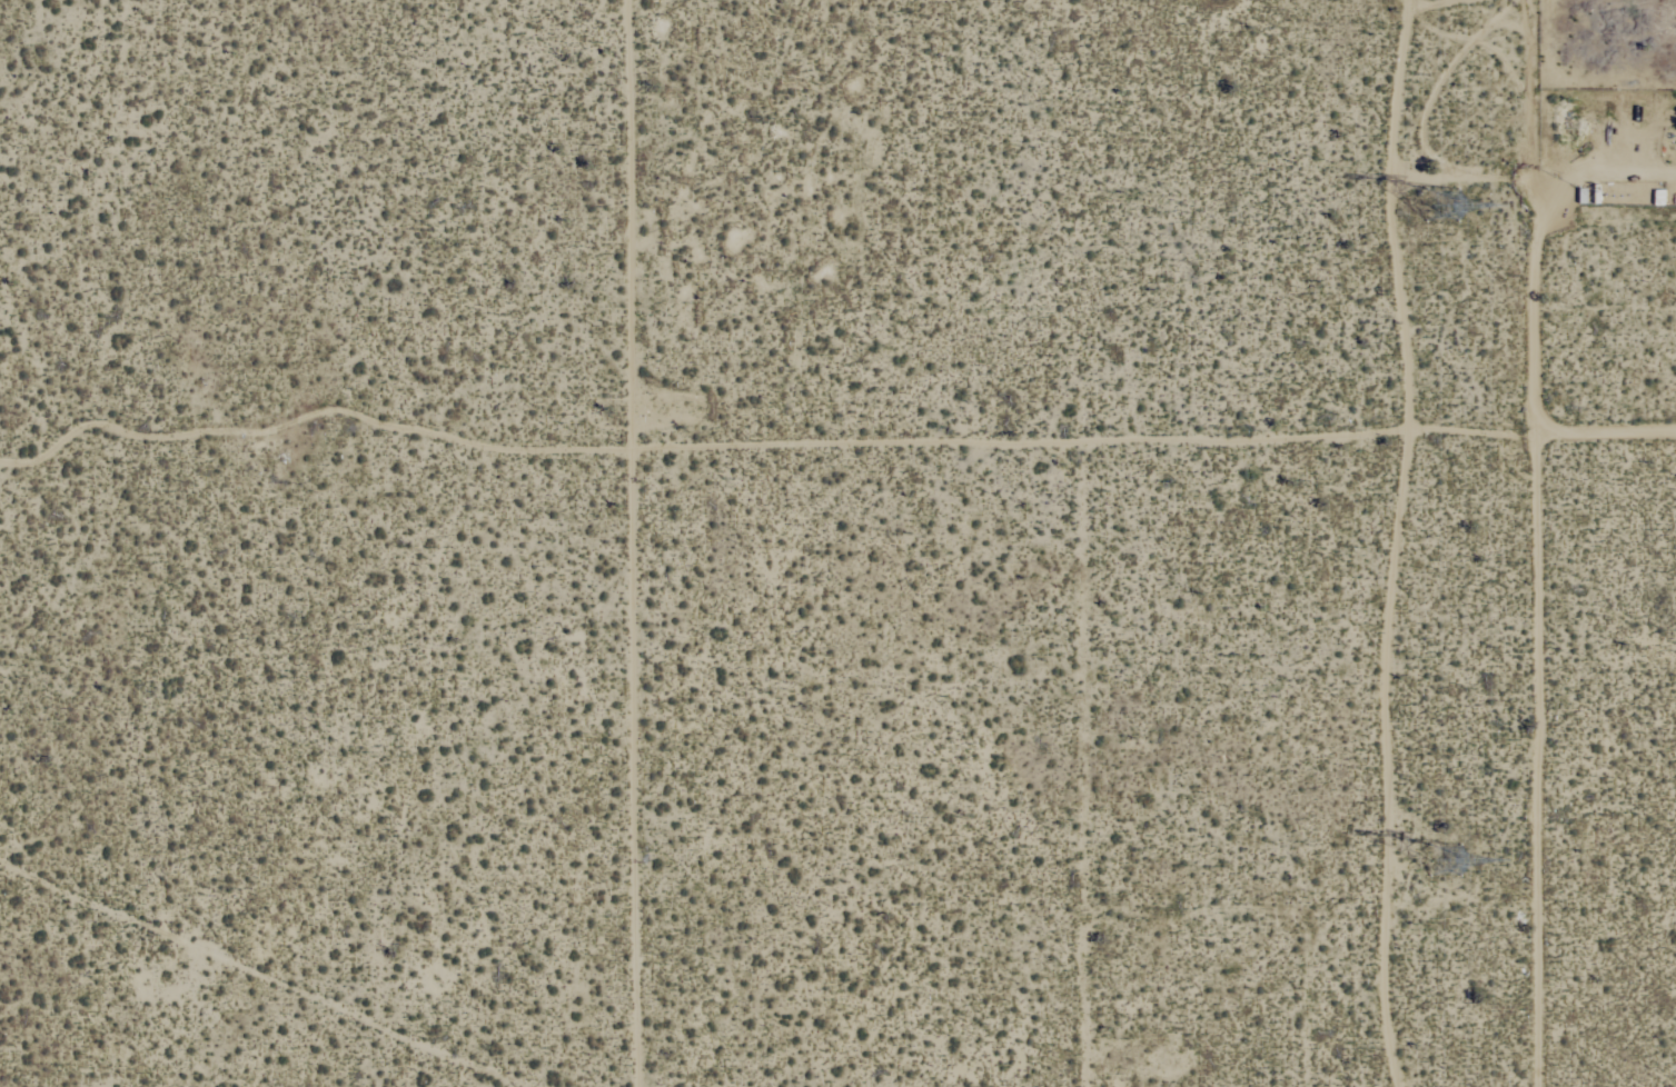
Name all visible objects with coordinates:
road: (1597, 169)
power tower: (1419, 206)
road: (1603, 430)
road: (527, 487)
road: (1535, 542)
road: (634, 543)
road: (1159, 794)
power tower: (1437, 852)
road: (1355, 931)

